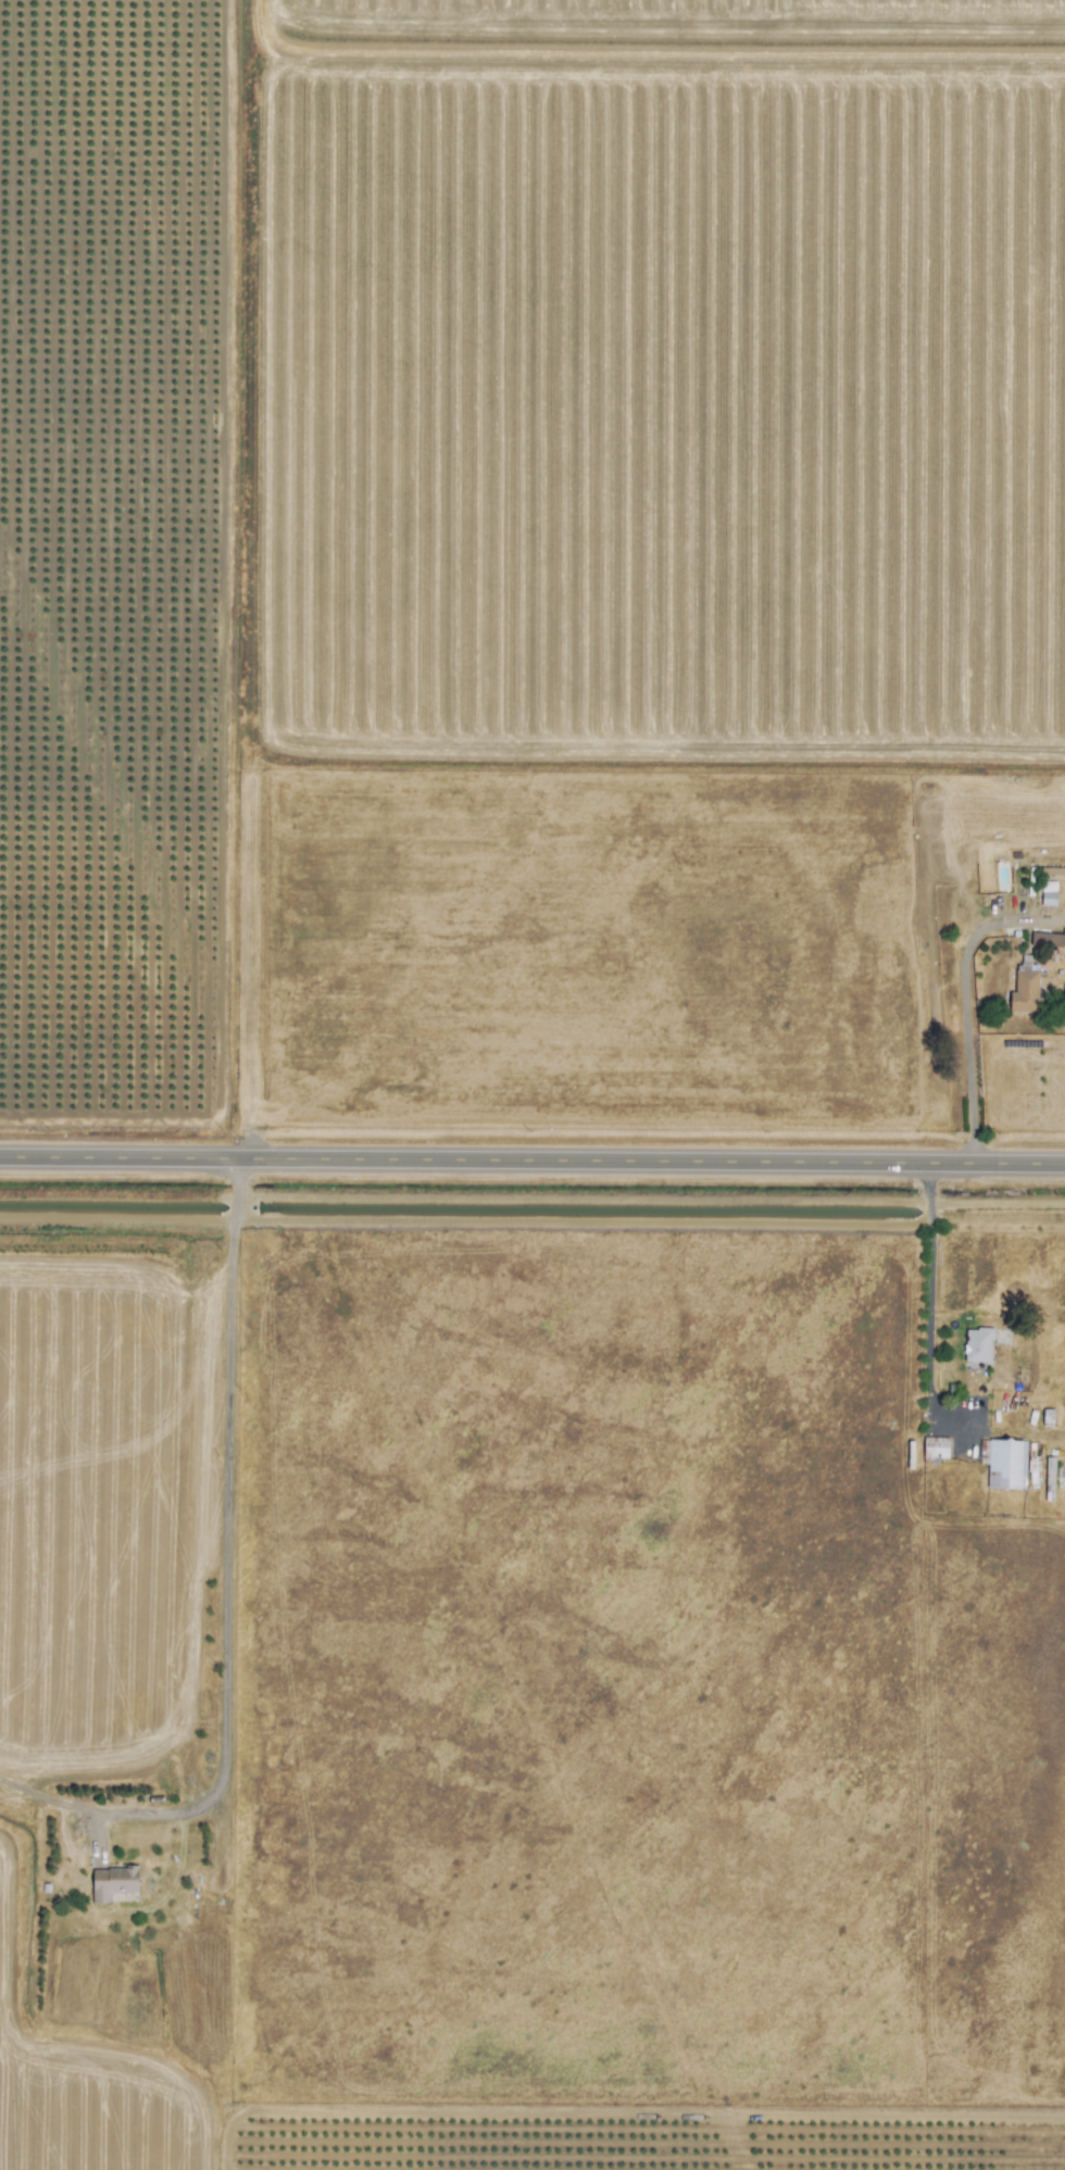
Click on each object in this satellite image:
building: (1026, 991)
road: (965, 999)
road: (532, 1155)
road: (928, 1169)
road: (929, 1192)
road: (116, 1219)
road: (929, 1316)
building: (977, 1345)
building: (934, 1450)
building: (1007, 1464)
road: (225, 1592)
building: (112, 1882)

